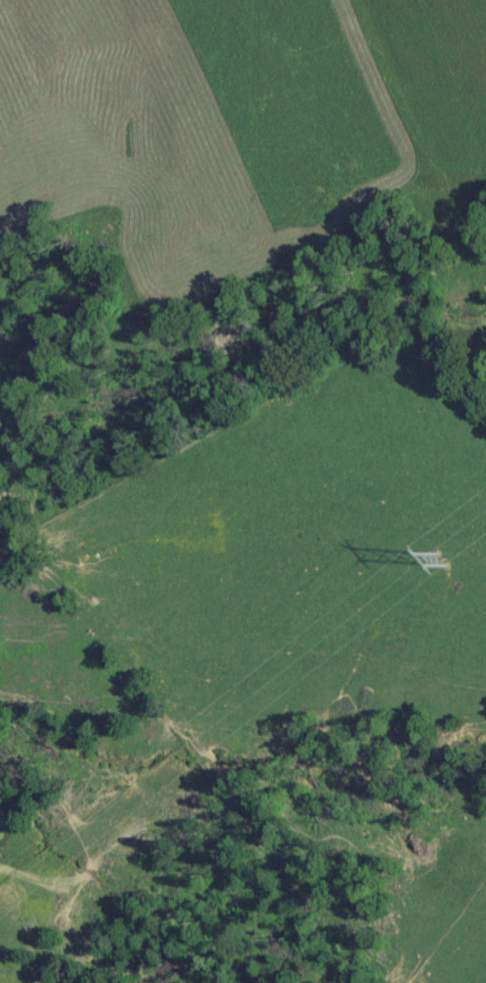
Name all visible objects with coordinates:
power tower: (444, 567)

